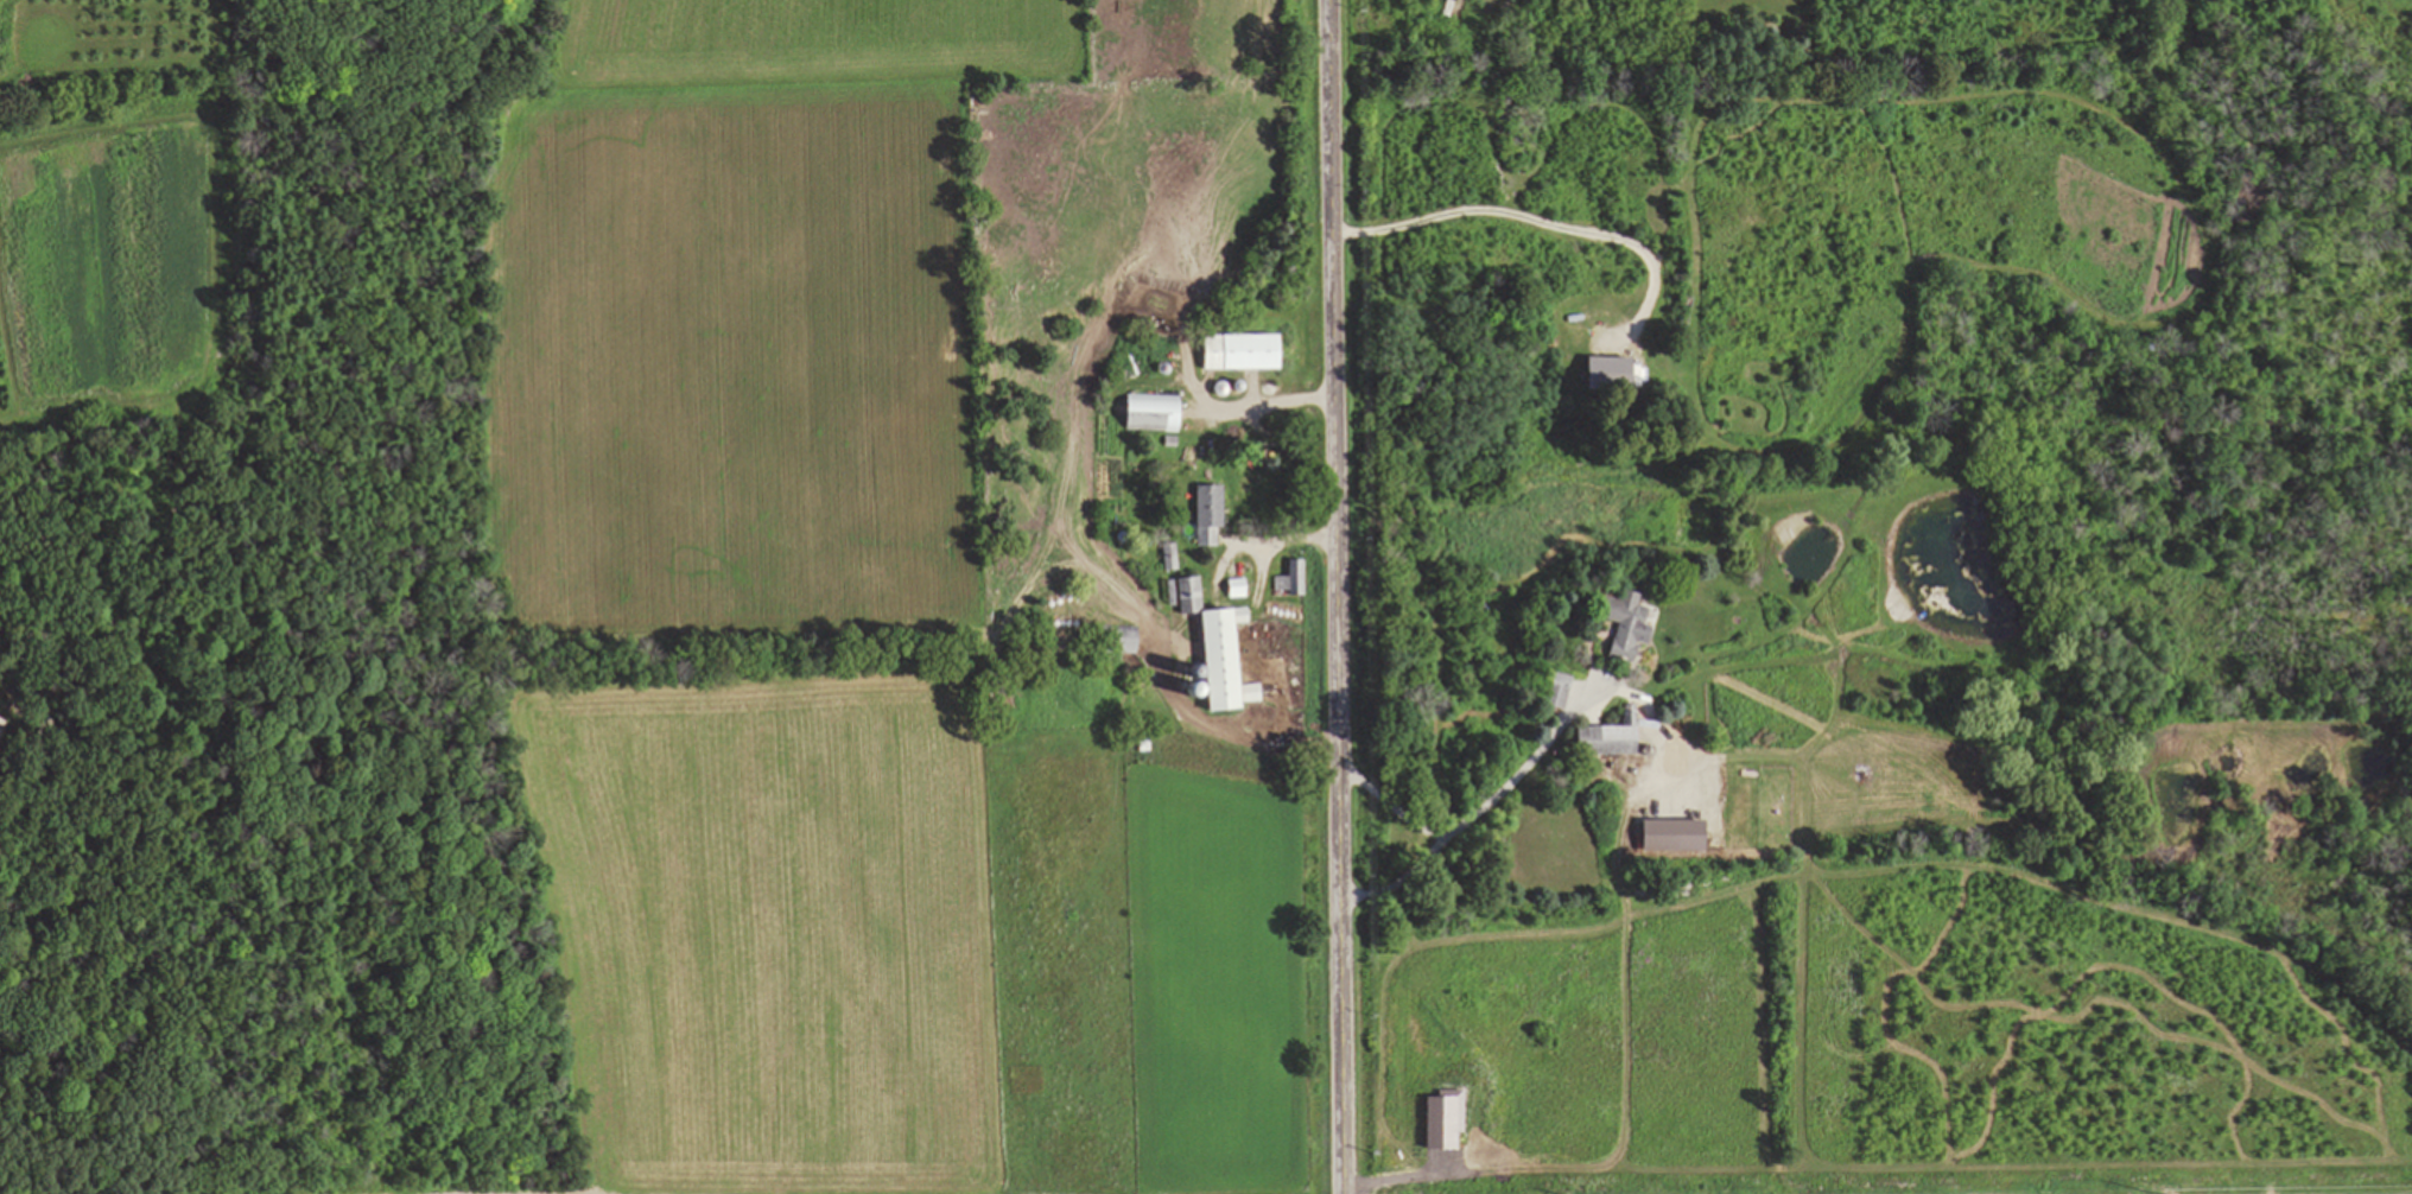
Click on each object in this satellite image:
building: (1225, 354)
road: (1245, 406)
building: (1163, 415)
building: (1223, 516)
road: (1277, 539)
road: (1238, 540)
building: (1312, 579)
building: (1252, 589)
road: (1339, 596)
building: (1640, 625)
building: (1128, 641)
building: (1230, 652)
building: (1573, 692)
building: (1, 722)
road: (1264, 739)
building: (1620, 739)

